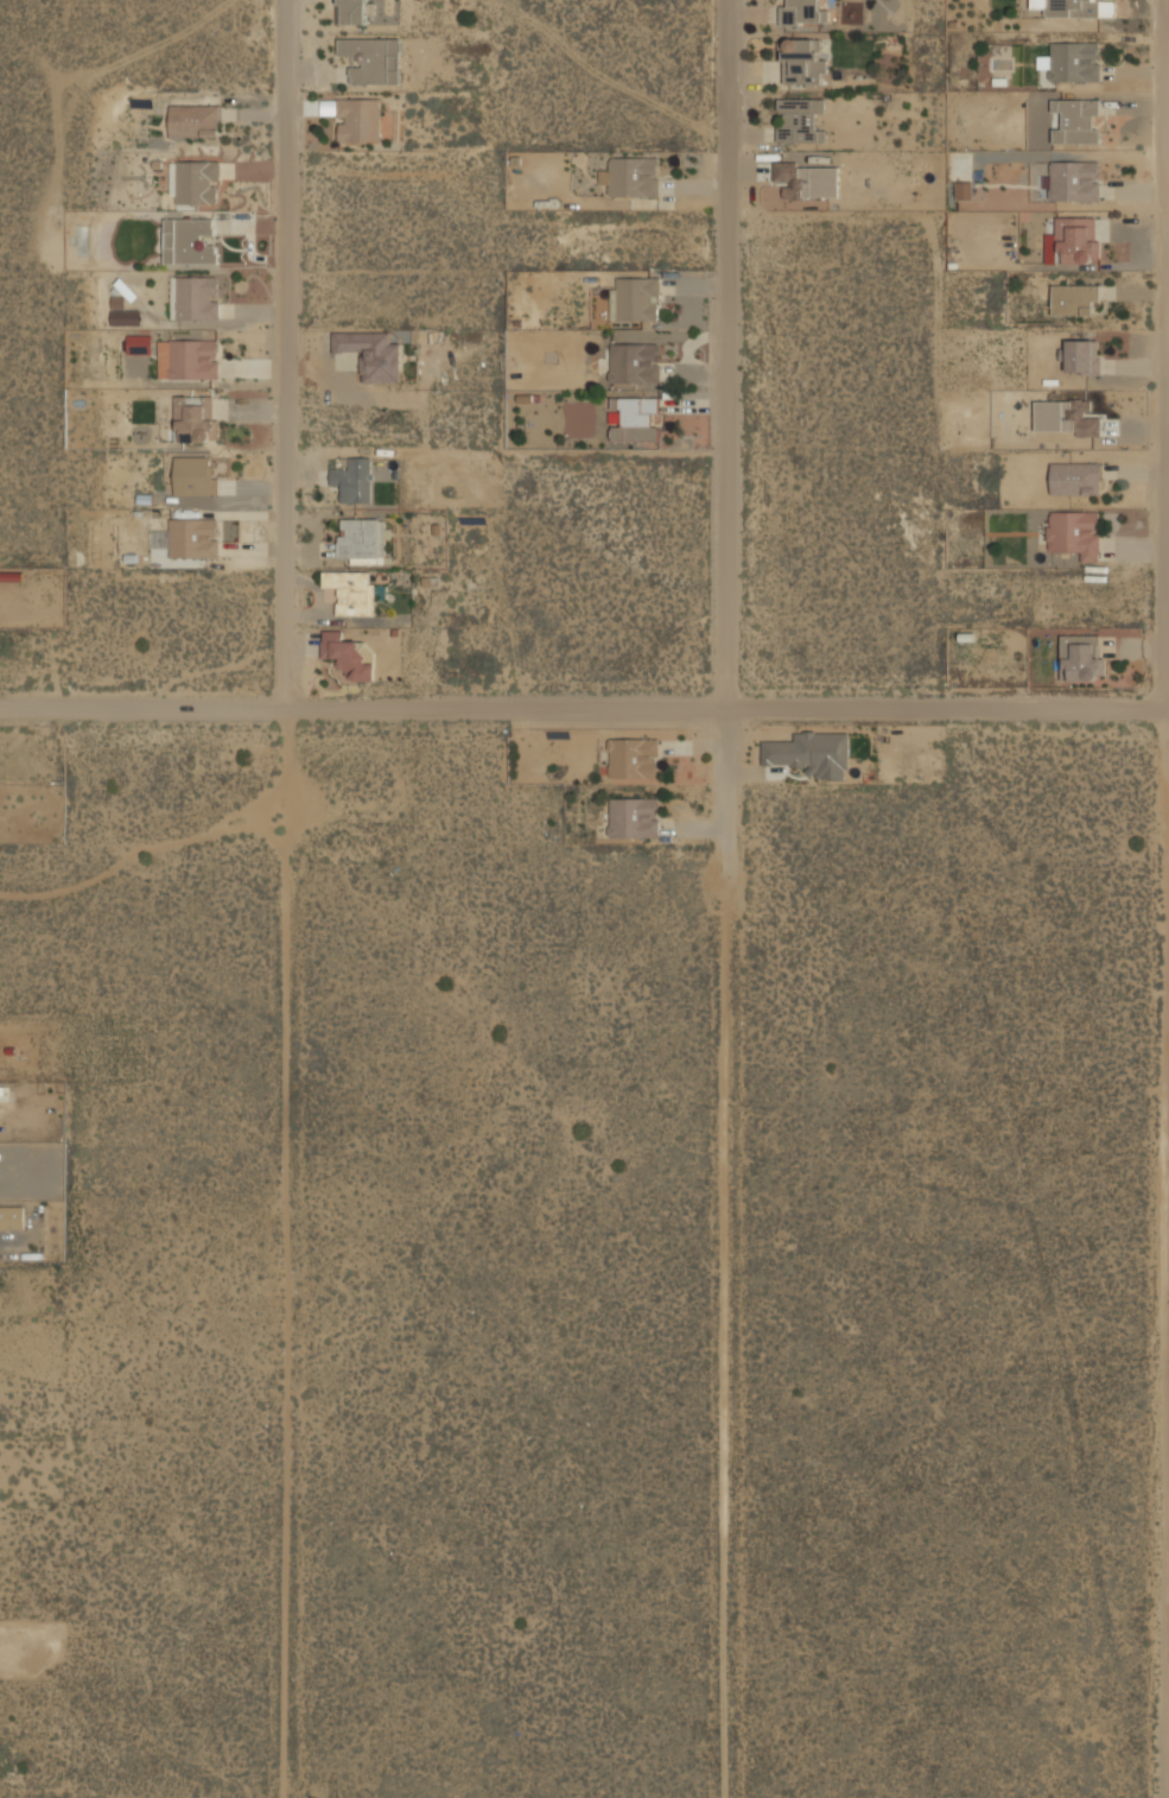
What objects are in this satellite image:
building: (1070, 8)
building: (352, 12)
building: (802, 12)
building: (371, 59)
building: (802, 61)
building: (1072, 61)
building: (358, 119)
building: (799, 119)
building: (195, 120)
building: (1076, 121)
building: (631, 176)
building: (1074, 181)
building: (197, 182)
building: (964, 190)
building: (1078, 239)
building: (190, 241)
building: (195, 298)
building: (635, 298)
building: (1074, 299)
building: (126, 317)
building: (139, 344)
building: (371, 354)
building: (1084, 356)
building: (188, 359)
building: (630, 362)
building: (197, 418)
building: (635, 419)
building: (195, 475)
building: (355, 480)
building: (1075, 480)
building: (1075, 533)
building: (190, 538)
building: (358, 538)
building: (350, 591)
building: (348, 653)
building: (1082, 657)
road: (584, 707)
building: (811, 753)
building: (633, 760)
building: (634, 817)
road: (1165, 898)
road: (286, 899)
road: (728, 899)
building: (12, 1216)

